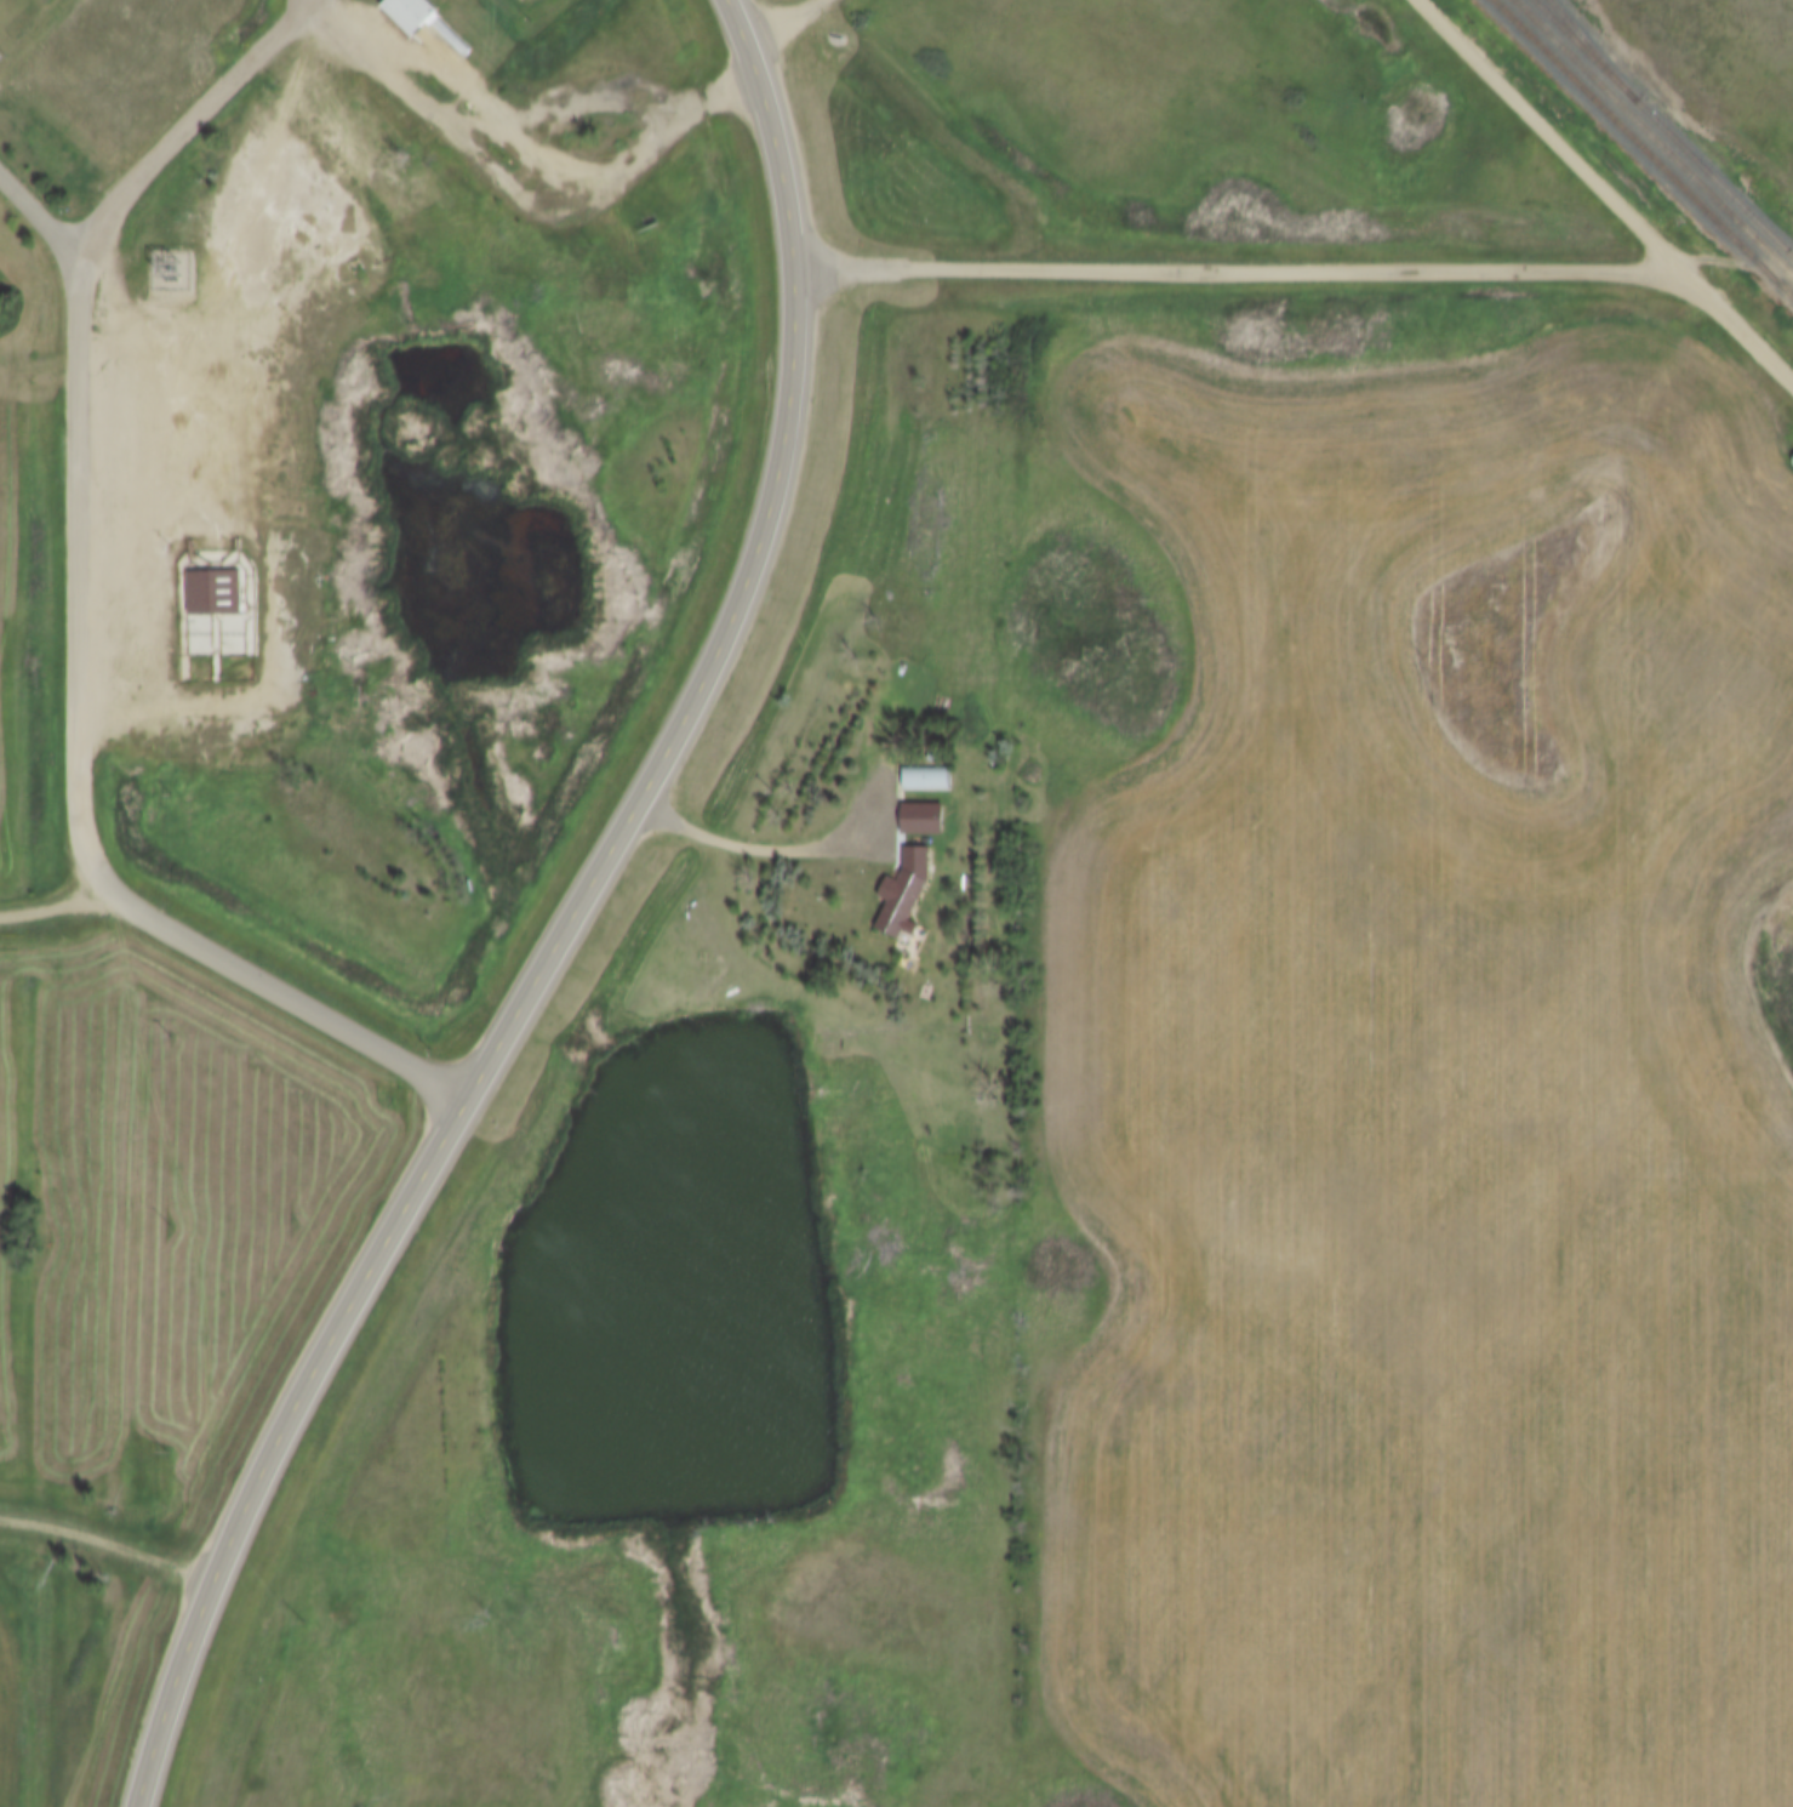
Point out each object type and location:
road: (313, 1)
building: (426, 21)
road: (750, 28)
railway: (1587, 45)
road: (1695, 98)
road: (708, 109)
road: (439, 125)
railway: (1663, 127)
road: (193, 130)
railway: (1654, 137)
railway: (1643, 148)
road: (1600, 195)
road: (38, 220)
road: (1730, 258)
power substation: (169, 273)
road: (1237, 277)
road: (178, 432)
building: (213, 595)
building: (925, 782)
road: (81, 793)
building: (923, 821)
road: (753, 854)
building: (907, 895)
road: (53, 917)
road: (559, 953)
road: (108, 1549)

